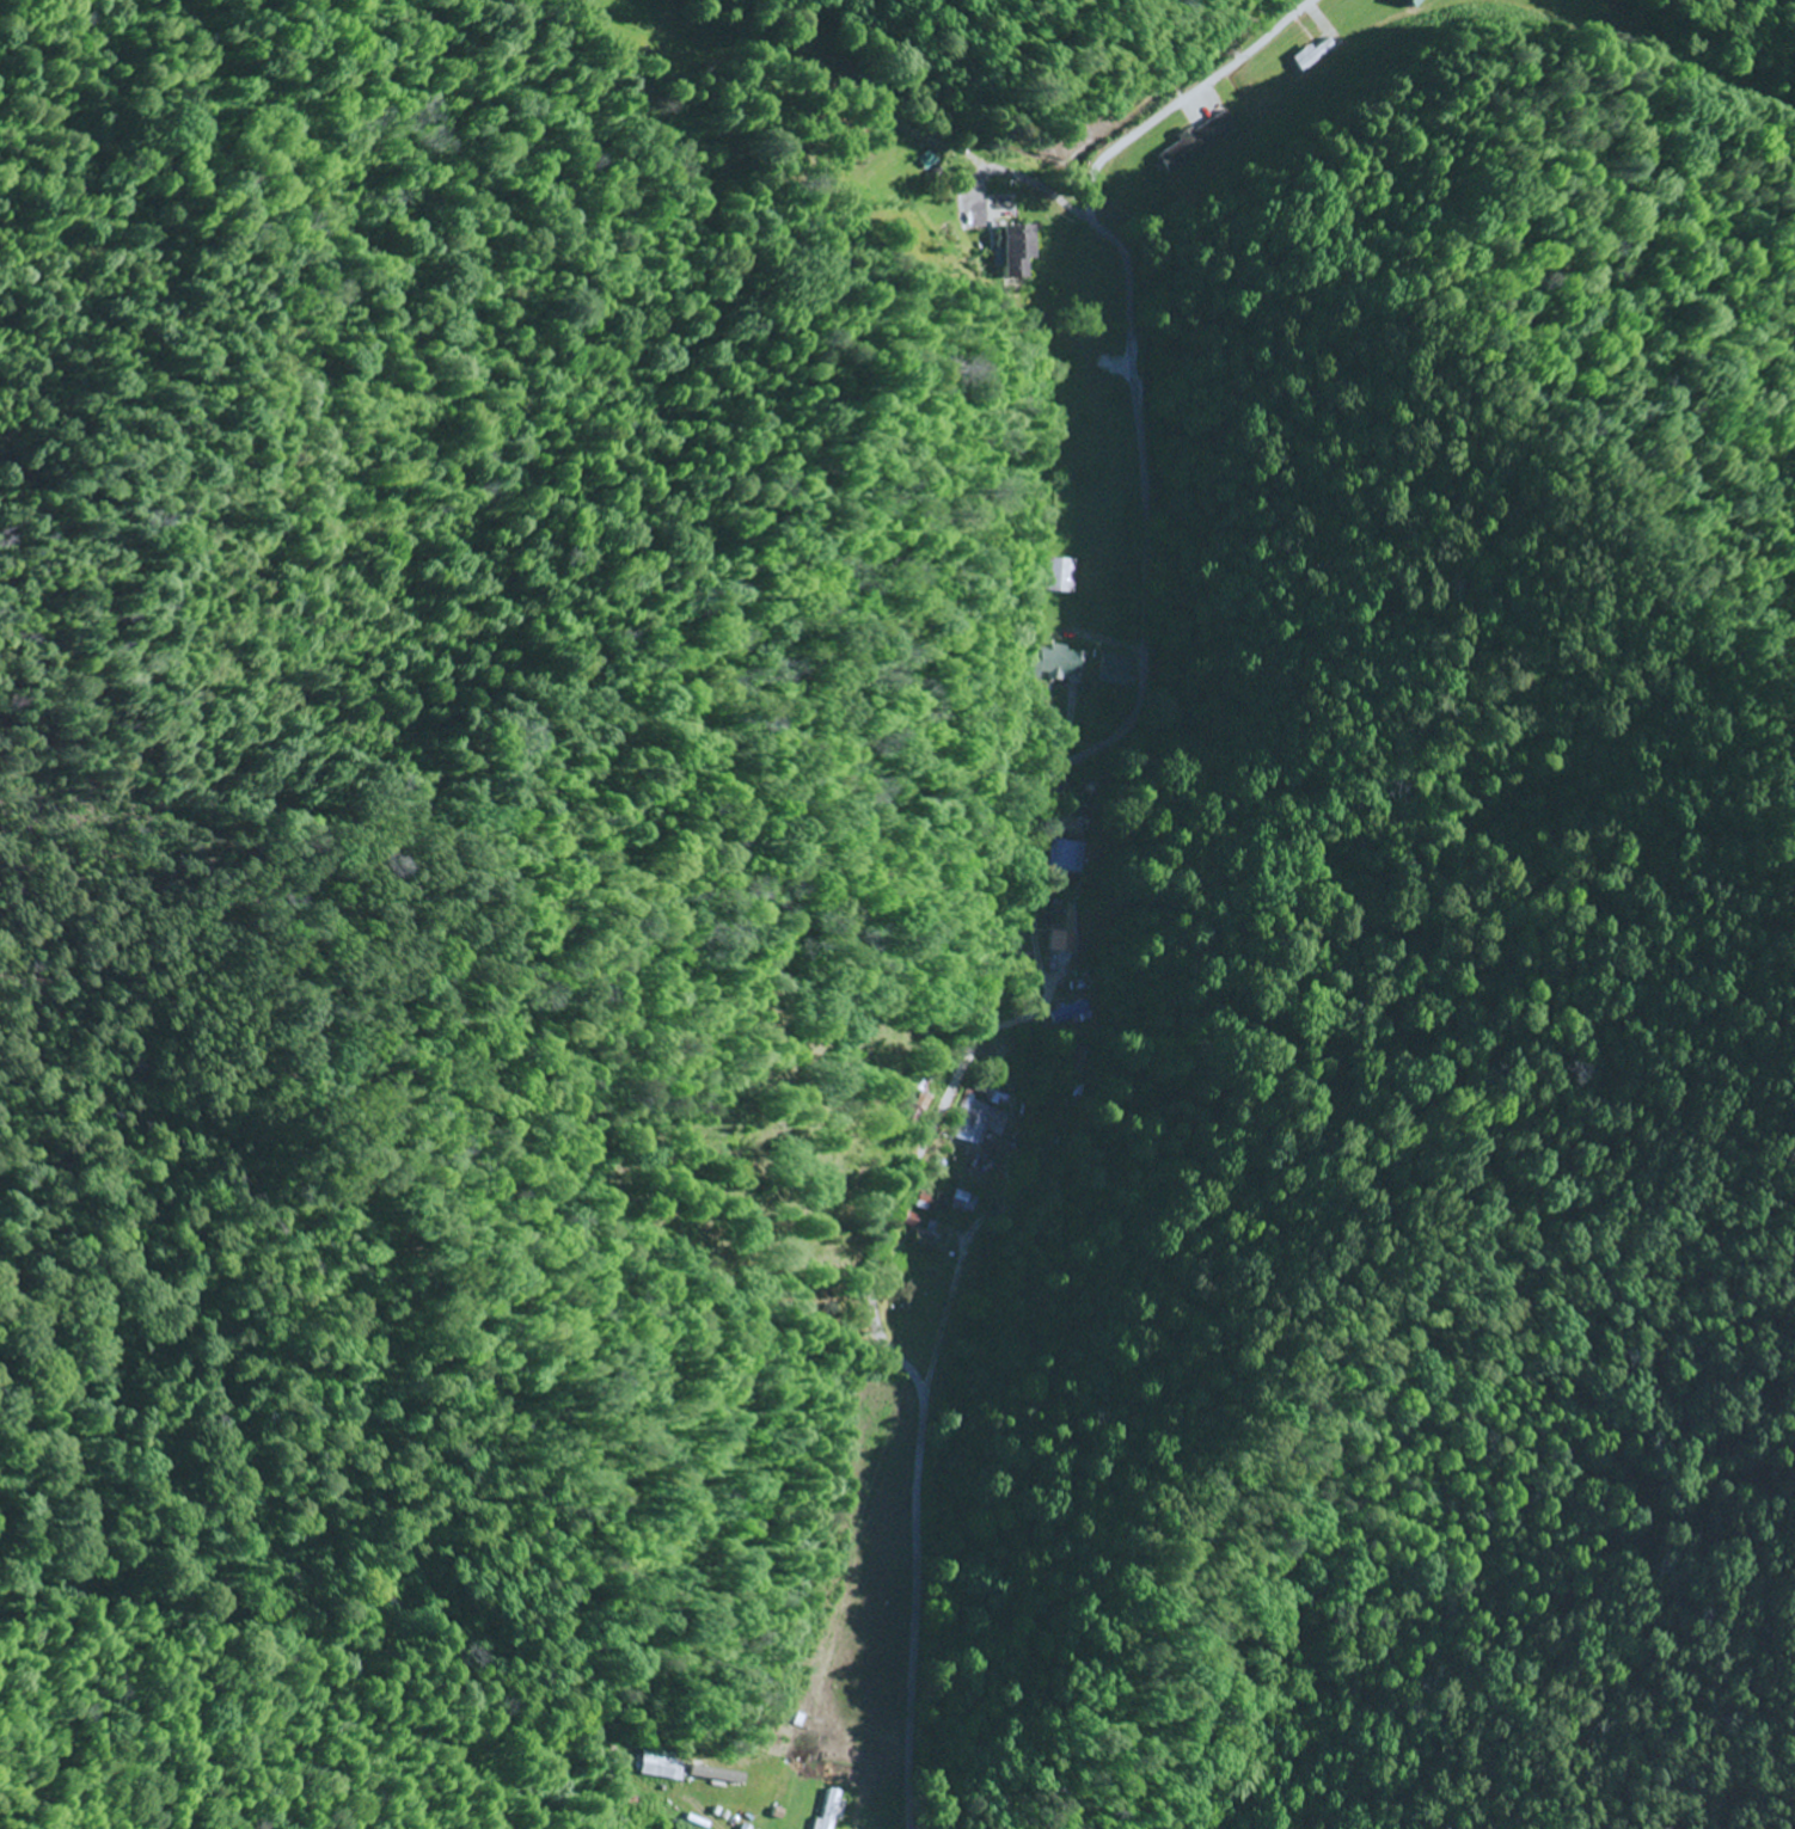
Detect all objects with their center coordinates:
building: (1411, 1)
road: (1187, 96)
road: (893, 118)
building: (1013, 248)
building: (1056, 575)
building: (1055, 662)
building: (1114, 669)
building: (1067, 859)
road: (991, 994)
building: (1072, 1013)
building: (979, 1123)
building: (963, 1202)
building: (931, 1203)
building: (932, 1238)
building: (662, 1764)
building: (716, 1776)
building: (829, 1810)

